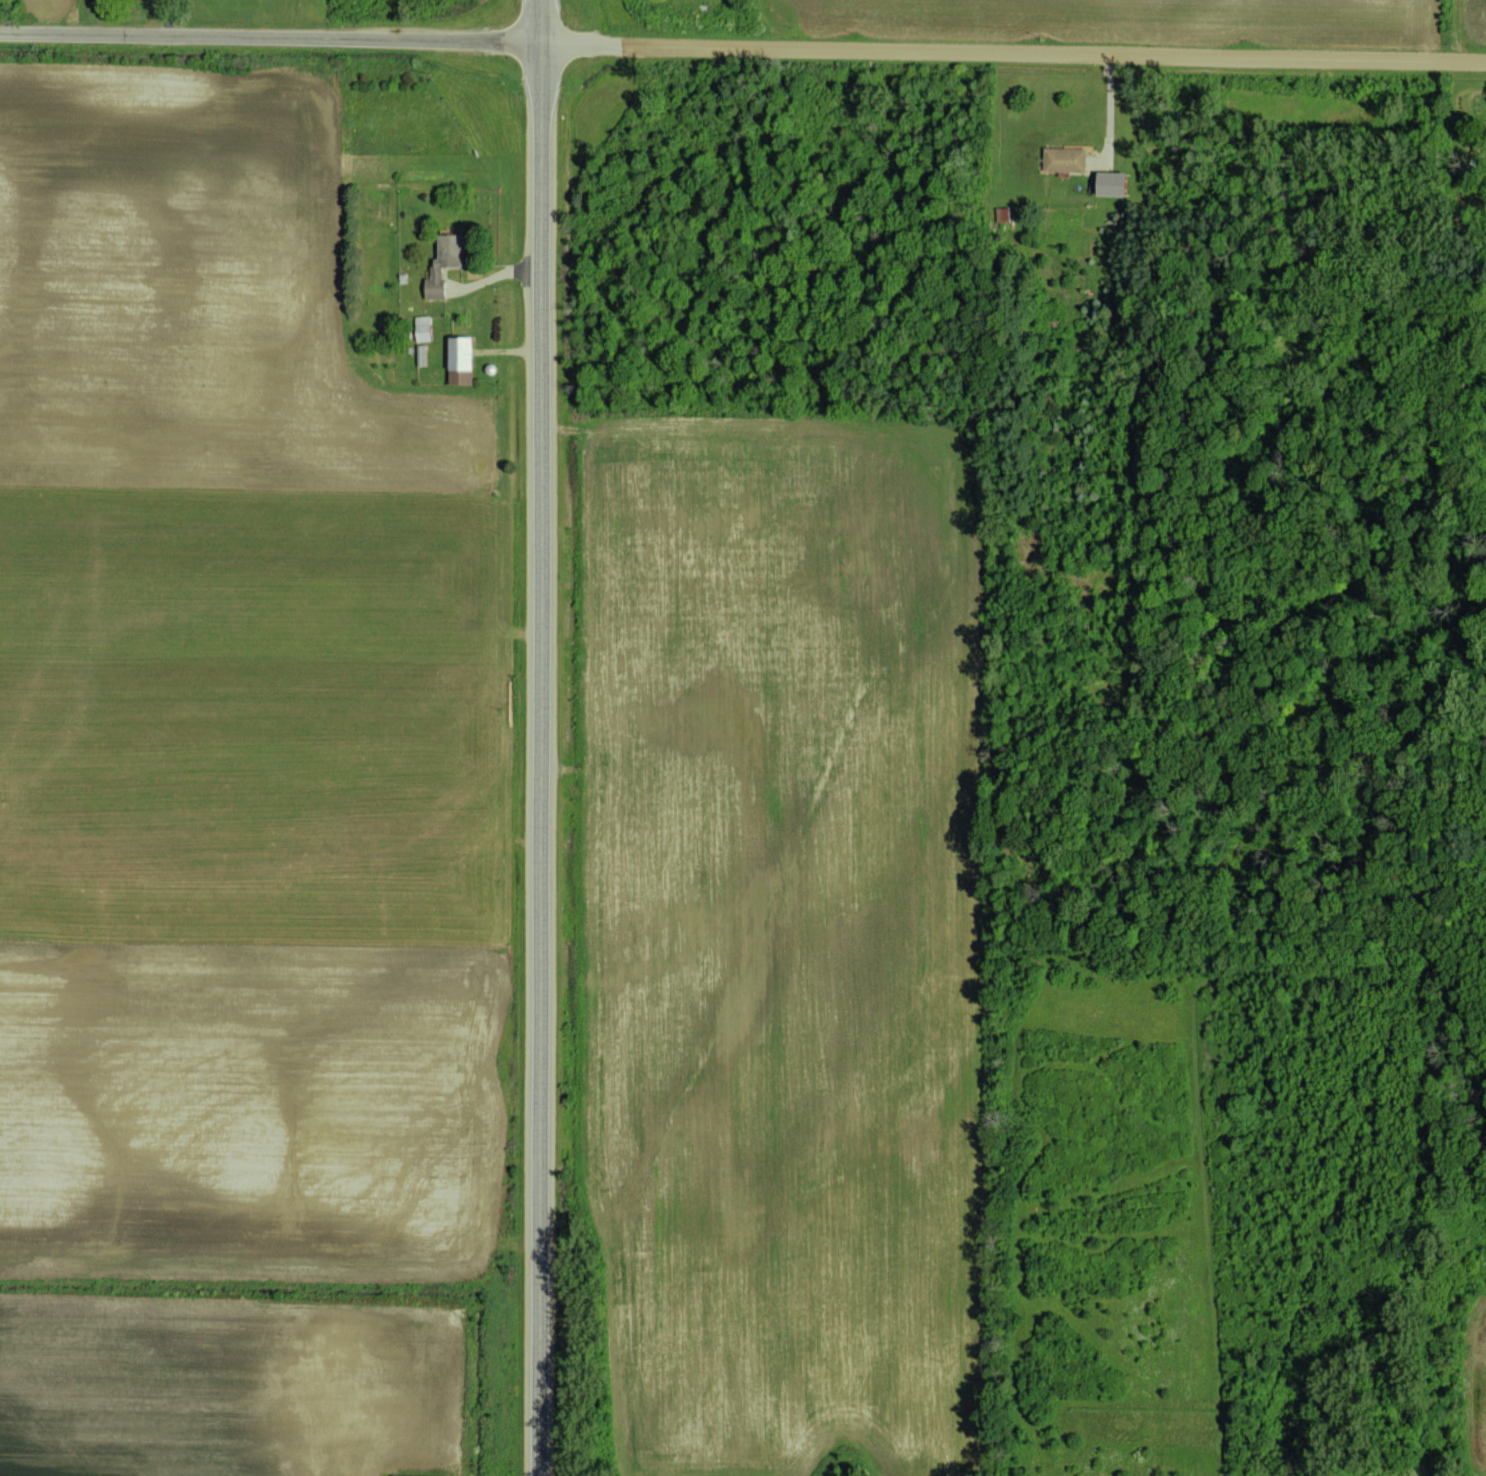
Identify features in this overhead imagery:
road: (269, 36)
road: (1012, 50)
building: (1068, 159)
building: (1114, 183)
building: (1002, 214)
building: (444, 264)
building: (423, 328)
building: (461, 360)
road: (538, 737)
building: (415, 1475)

